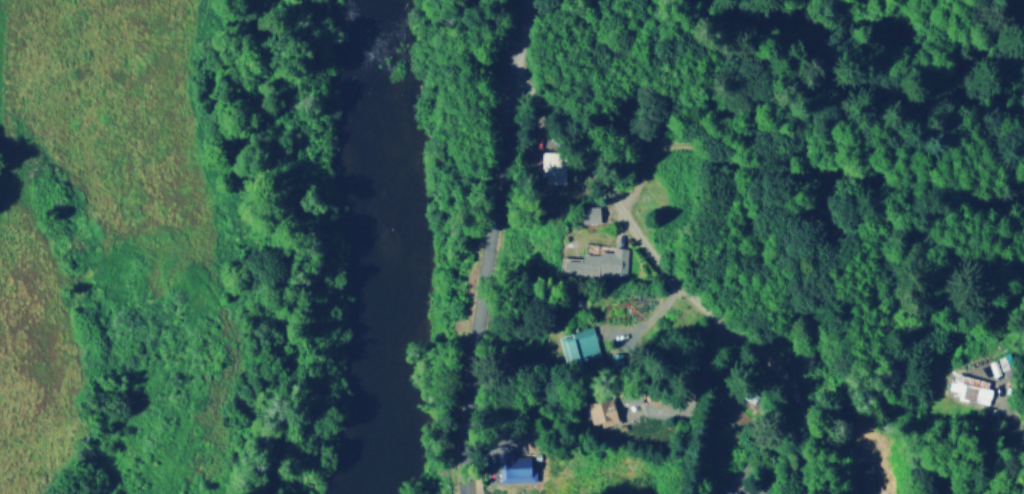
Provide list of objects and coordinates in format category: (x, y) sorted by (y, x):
road: (569, 128)
building: (553, 166)
road: (810, 179)
building: (589, 213)
road: (496, 246)
river: (381, 247)
building: (597, 263)
road: (741, 333)
building: (579, 344)
building: (970, 387)
road: (703, 408)
building: (602, 411)
building: (515, 468)
building: (728, 491)

